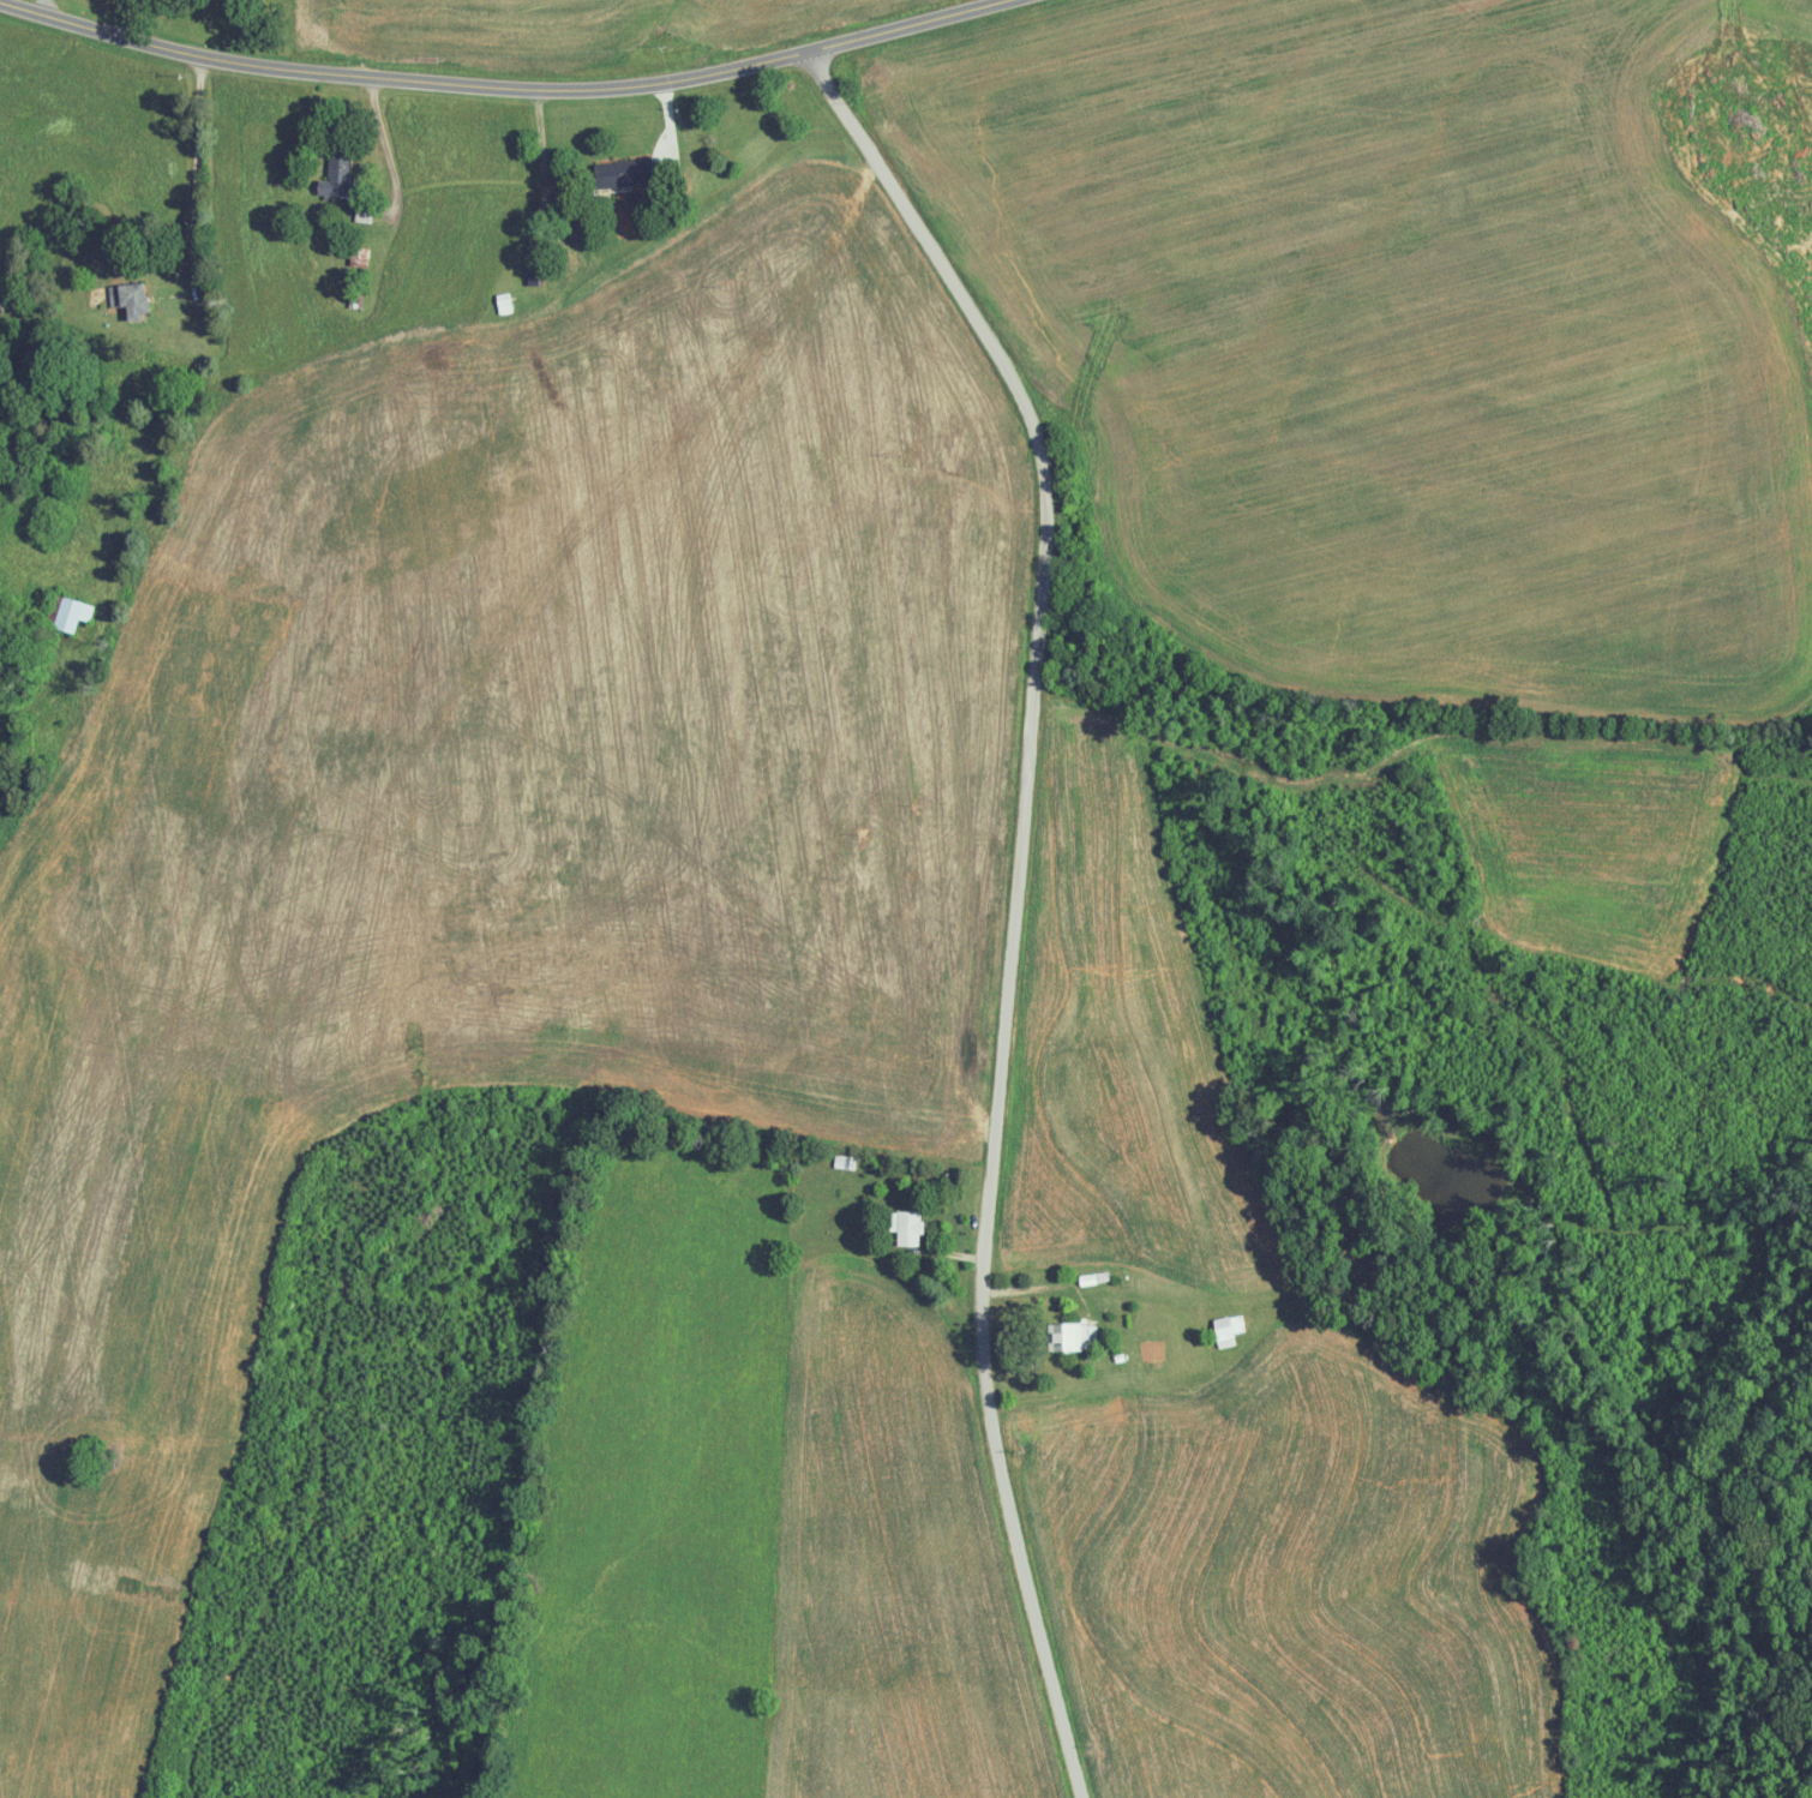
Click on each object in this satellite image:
road: (43, 8)
road: (515, 90)
building: (616, 173)
building: (331, 175)
building: (127, 298)
building: (500, 302)
road: (204, 380)
building: (68, 613)
road: (1019, 901)
building: (904, 1227)
building: (1225, 1329)
building: (1069, 1336)

